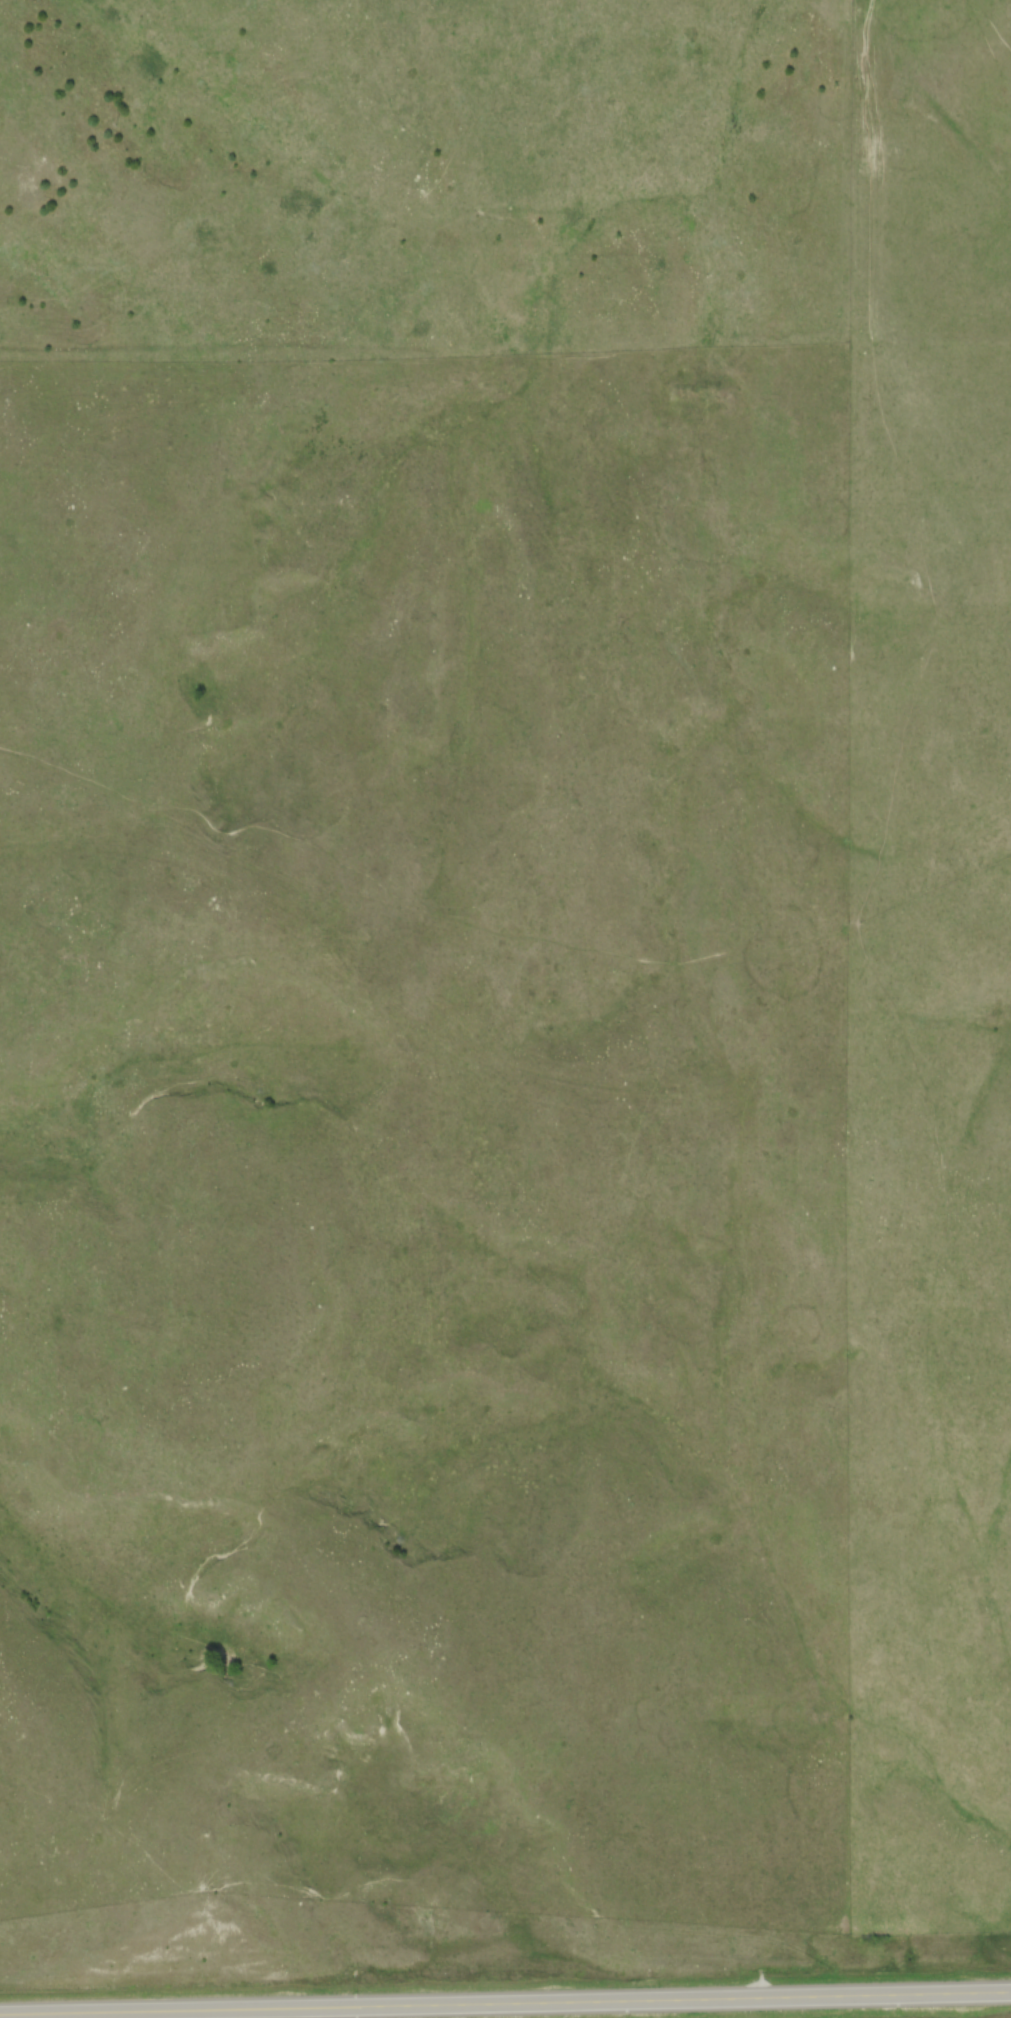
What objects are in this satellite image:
road: (505, 2003)

